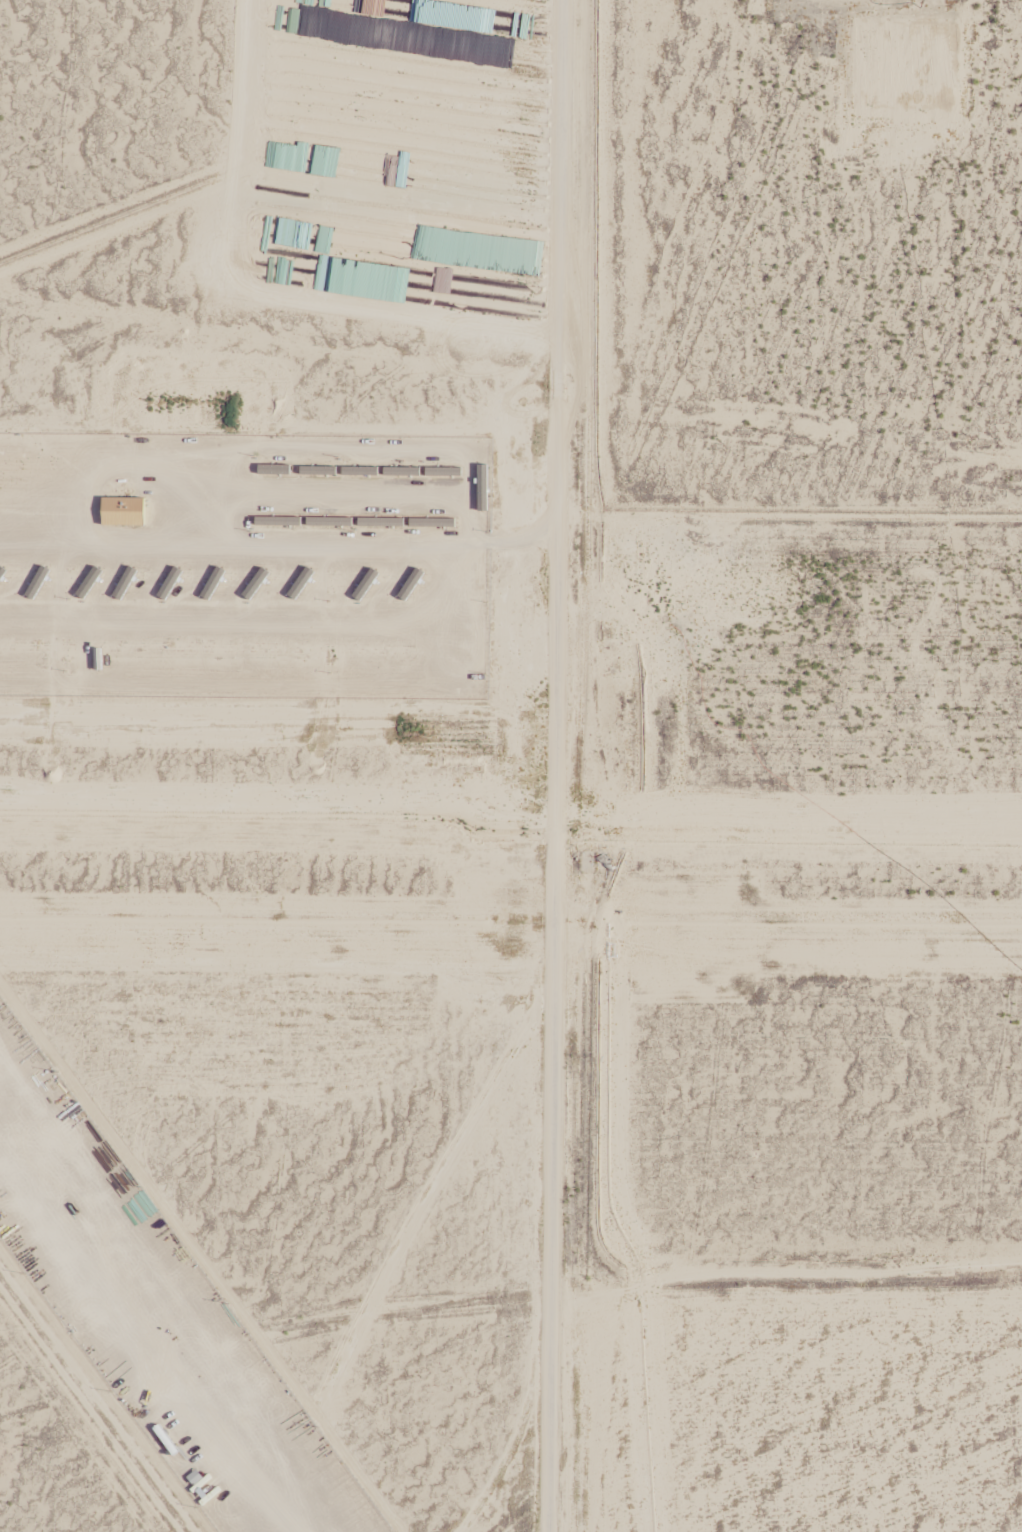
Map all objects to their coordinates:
building: (513, 301)
building: (124, 513)
road: (555, 865)
road: (548, 1404)

